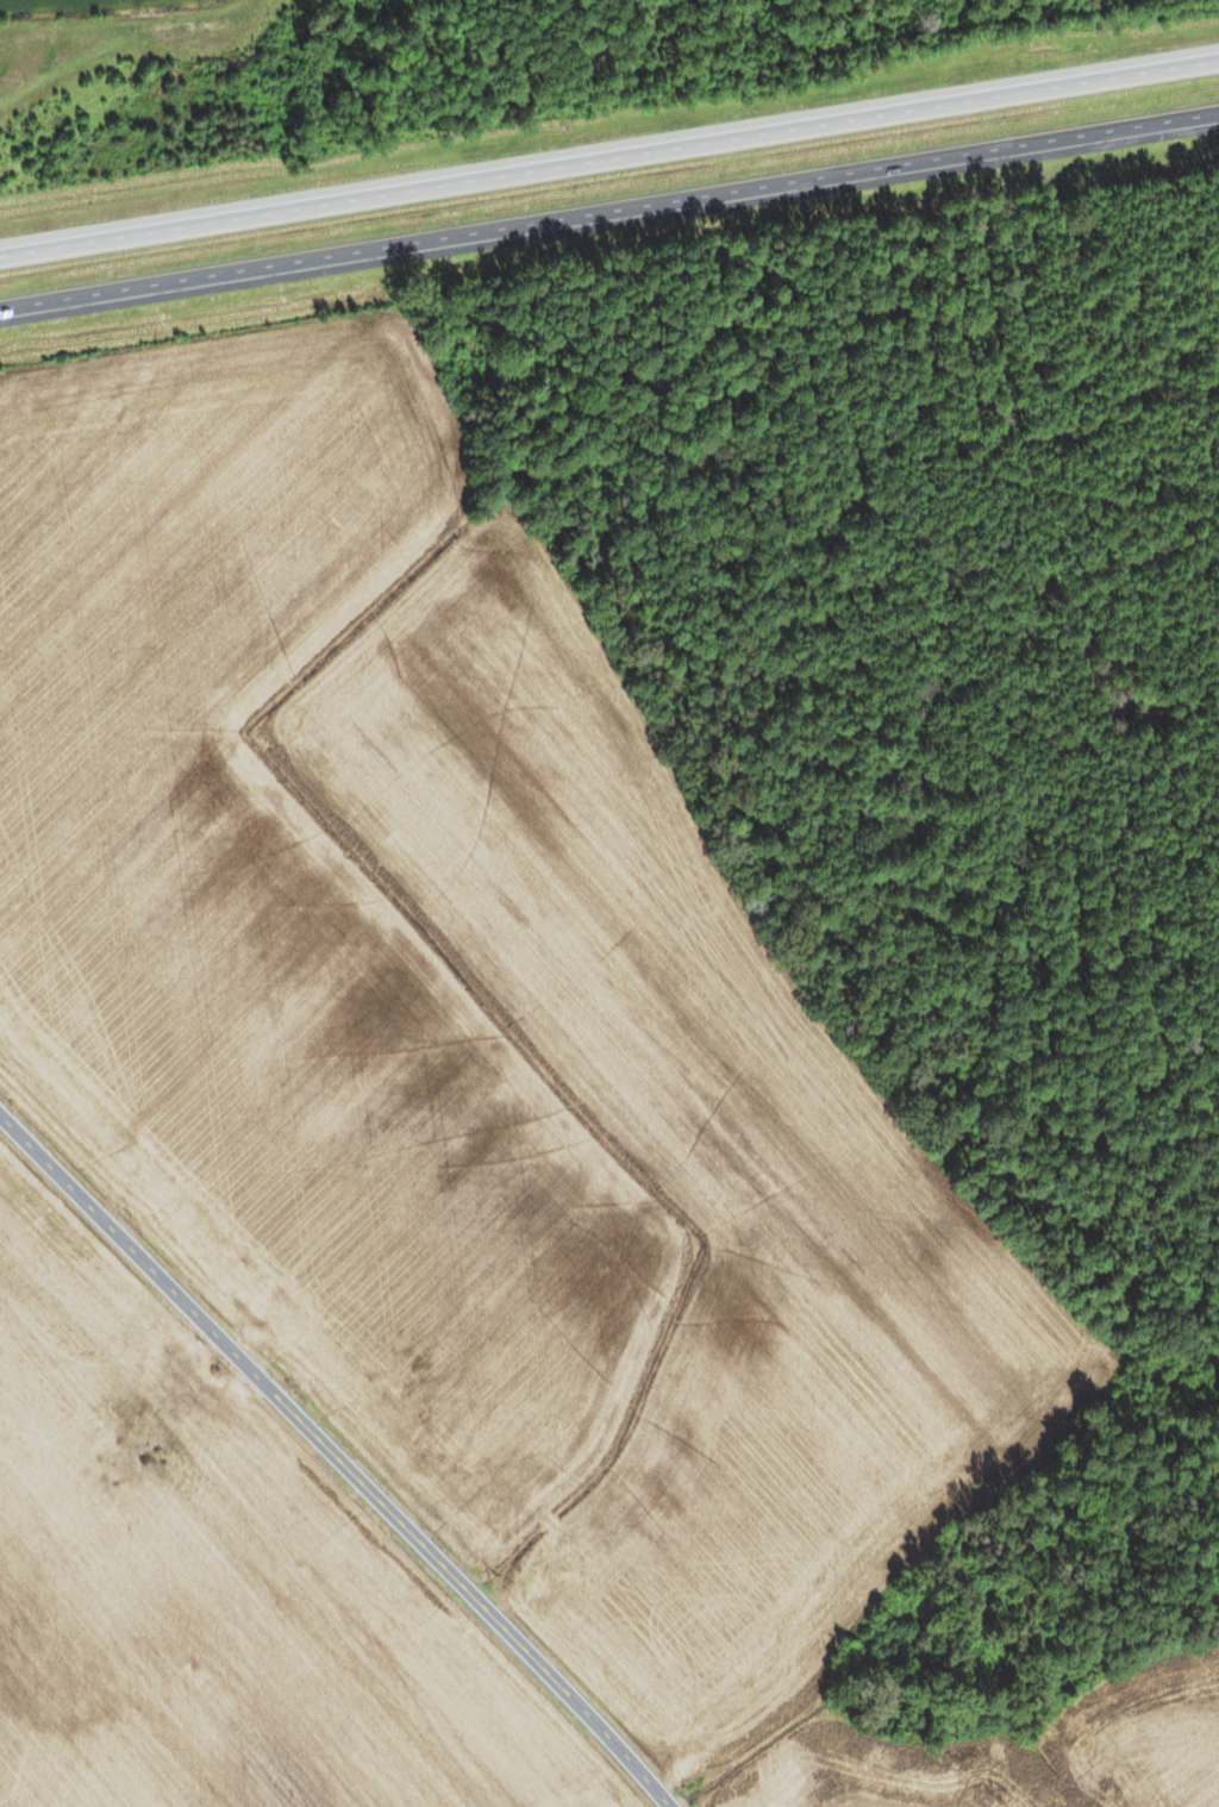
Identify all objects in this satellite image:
road: (608, 146)
road: (609, 218)
road: (338, 1457)

